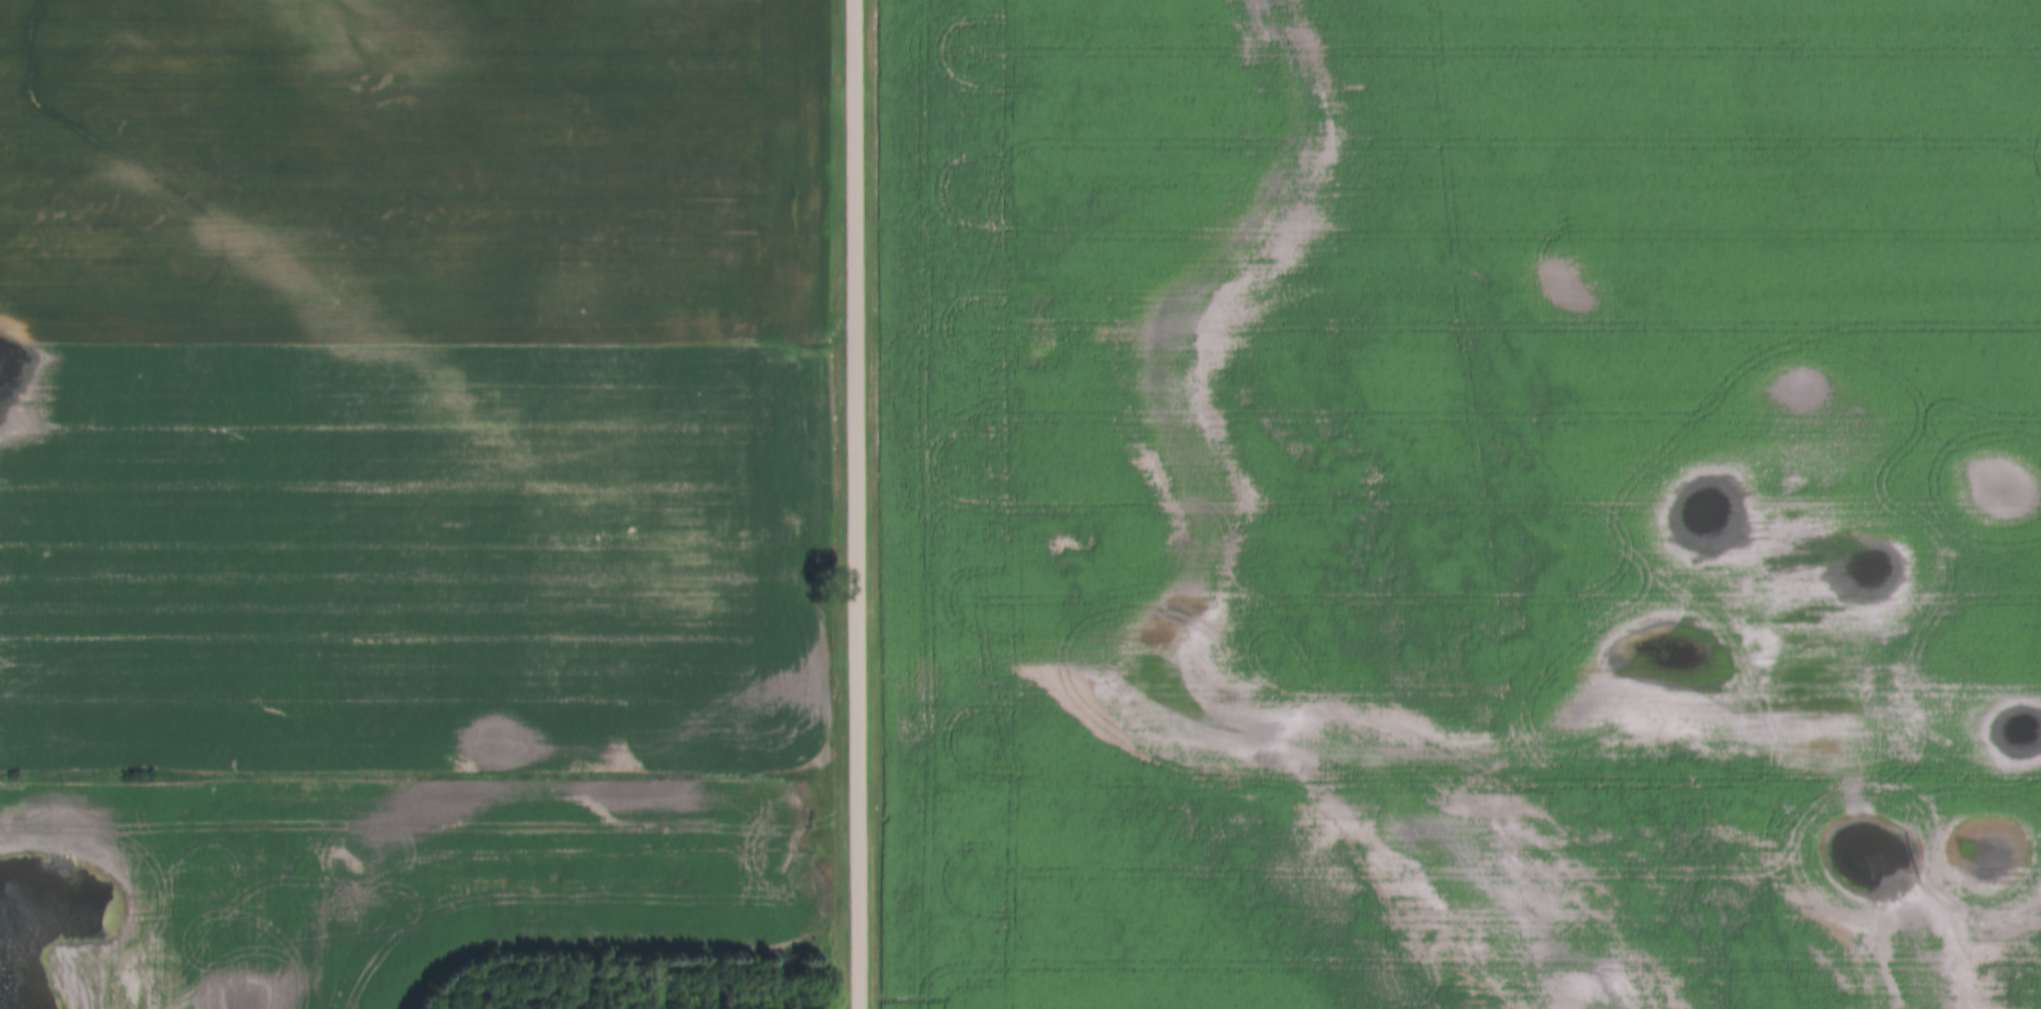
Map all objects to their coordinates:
road: (856, 504)
crop: (407, 506)

